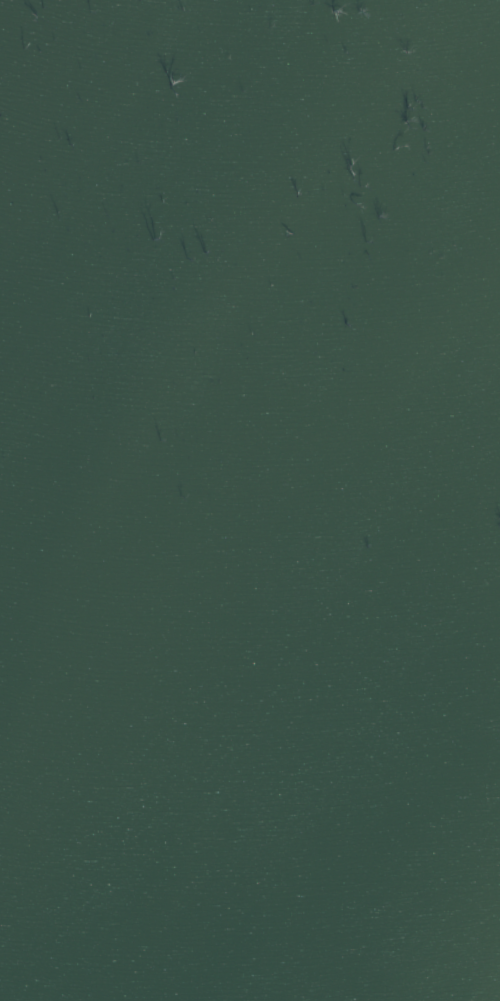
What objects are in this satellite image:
building: (249, 498)

